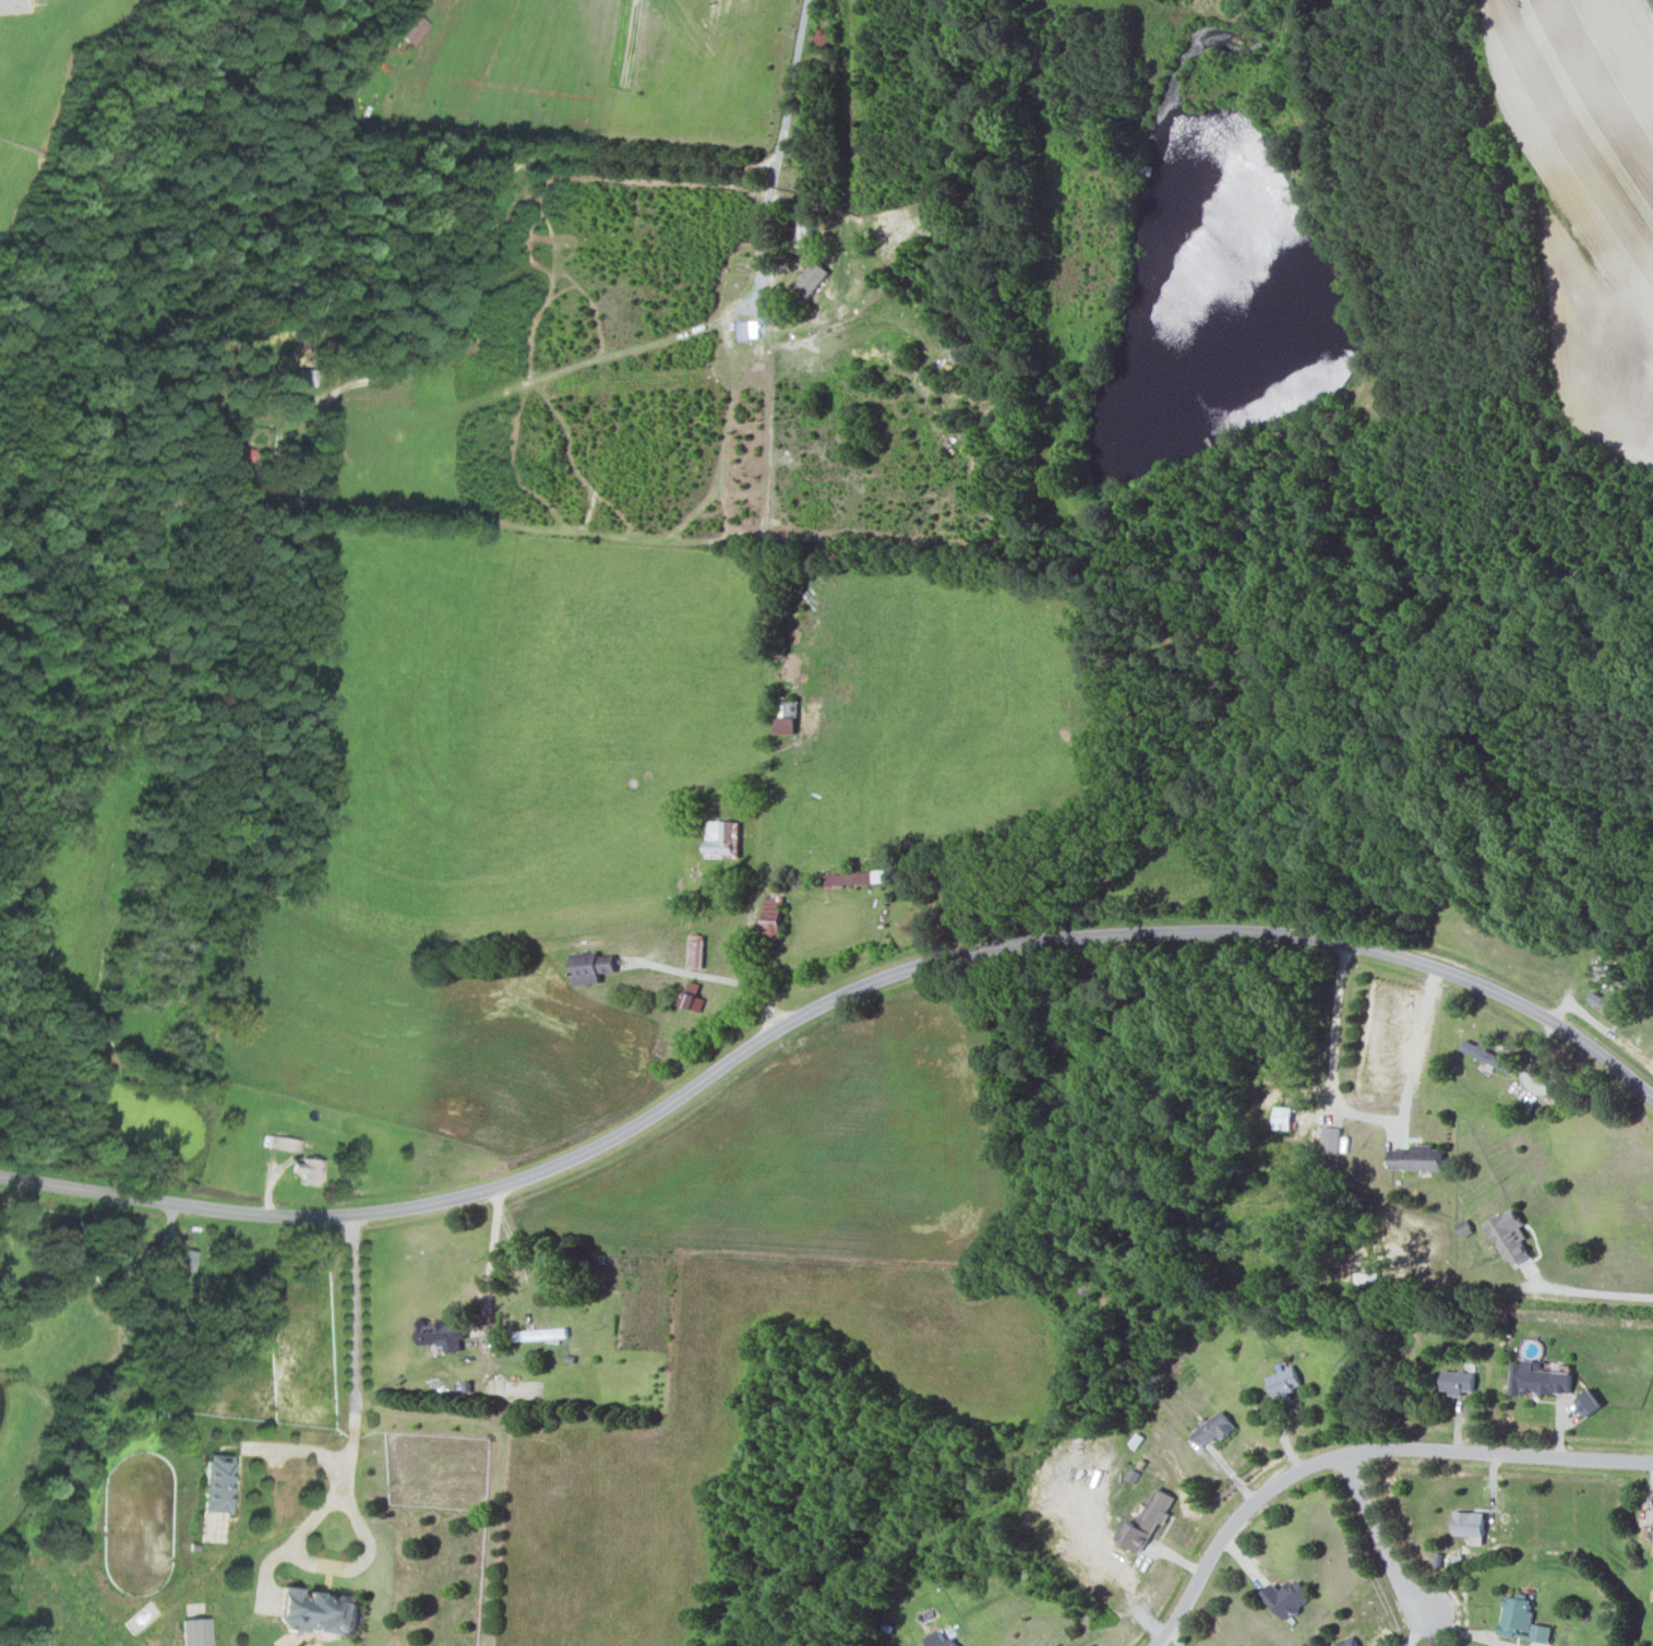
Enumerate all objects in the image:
building: (412, 28)
road: (780, 136)
road: (462, 251)
building: (807, 283)
building: (228, 453)
building: (784, 725)
building: (722, 838)
building: (857, 878)
building: (771, 918)
building: (589, 966)
building: (1604, 975)
road: (712, 977)
building: (1604, 1002)
road: (825, 1006)
building: (1486, 1054)
road: (1333, 1062)
building: (1282, 1118)
building: (1330, 1140)
building: (285, 1143)
building: (1417, 1158)
building: (309, 1171)
building: (1509, 1236)
road: (494, 1244)
building: (181, 1260)
road: (1589, 1293)
road: (355, 1325)
building: (440, 1334)
building: (1458, 1381)
building: (1283, 1382)
building: (1588, 1403)
building: (1213, 1429)
road: (1359, 1452)
building: (216, 1483)
building: (1146, 1520)
building: (1470, 1525)
road: (1380, 1539)
road: (239, 1546)
road: (304, 1554)
building: (1286, 1598)
building: (315, 1612)
building: (1521, 1621)
road: (1483, 1627)
building: (195, 1632)
building: (935, 1639)
building: (1347, 1643)
building: (956, 1645)

